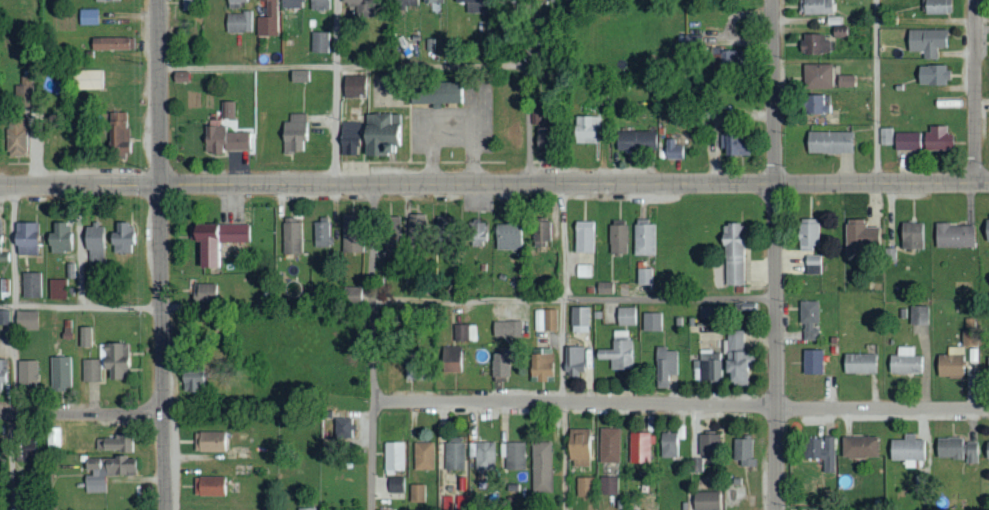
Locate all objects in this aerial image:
building: (106, 0)
building: (235, 1)
building: (431, 1)
building: (405, 2)
building: (291, 3)
building: (186, 4)
building: (318, 4)
building: (473, 5)
building: (816, 6)
building: (937, 6)
building: (361, 7)
building: (88, 16)
building: (267, 17)
building: (239, 21)
building: (728, 25)
building: (839, 31)
building: (693, 39)
building: (927, 41)
building: (319, 42)
building: (112, 43)
building: (816, 44)
building: (725, 61)
road: (343, 66)
building: (932, 74)
building: (299, 76)
building: (817, 76)
building: (87, 79)
building: (846, 81)
building: (352, 85)
road: (336, 91)
road: (875, 91)
road: (975, 91)
road: (528, 92)
building: (436, 93)
building: (24, 95)
building: (817, 103)
building: (227, 109)
building: (585, 128)
building: (119, 132)
building: (379, 132)
building: (538, 132)
building: (293, 133)
building: (15, 136)
building: (885, 136)
building: (347, 138)
building: (937, 138)
building: (225, 139)
building: (635, 140)
building: (828, 141)
building: (906, 141)
building: (729, 143)
building: (672, 149)
road: (494, 184)
building: (415, 223)
building: (987, 227)
building: (539, 231)
building: (321, 233)
building: (390, 233)
building: (476, 234)
building: (807, 234)
building: (351, 235)
building: (911, 235)
building: (954, 235)
building: (507, 236)
building: (583, 236)
building: (858, 236)
building: (291, 237)
building: (25, 238)
building: (59, 238)
building: (122, 238)
building: (214, 238)
building: (618, 238)
building: (644, 239)
building: (94, 242)
road: (79, 245)
building: (3, 253)
building: (732, 254)
road: (774, 254)
building: (890, 254)
road: (160, 255)
building: (812, 264)
building: (582, 270)
building: (644, 276)
building: (31, 285)
building: (57, 288)
building: (605, 288)
building: (204, 292)
building: (352, 294)
road: (572, 297)
road: (81, 305)
building: (709, 311)
building: (919, 315)
building: (625, 316)
building: (4, 317)
building: (26, 319)
building: (579, 319)
building: (545, 320)
building: (809, 320)
building: (652, 321)
building: (507, 328)
building: (465, 332)
building: (85, 336)
road: (371, 346)
road: (562, 347)
road: (14, 349)
building: (618, 352)
building: (735, 356)
building: (450, 358)
building: (114, 359)
building: (574, 360)
building: (811, 361)
building: (904, 361)
building: (859, 362)
building: (950, 362)
building: (499, 364)
building: (541, 364)
building: (664, 366)
building: (710, 366)
building: (91, 370)
building: (2, 371)
building: (988, 372)
building: (60, 373)
building: (27, 375)
building: (190, 384)
road: (681, 403)
road: (81, 415)
building: (342, 427)
building: (52, 437)
building: (209, 441)
building: (113, 443)
building: (669, 444)
building: (708, 444)
building: (610, 445)
building: (579, 447)
building: (640, 447)
building: (859, 447)
building: (948, 448)
building: (986, 449)
building: (907, 450)
building: (26, 451)
building: (743, 451)
building: (820, 451)
building: (971, 452)
building: (454, 453)
building: (423, 455)
building: (482, 455)
building: (514, 456)
building: (392, 457)
building: (696, 465)
building: (541, 467)
building: (106, 471)
building: (395, 485)
building: (609, 485)
building: (208, 486)
building: (584, 491)
building: (417, 493)
building: (705, 500)
building: (461, 502)
building: (446, 503)
building: (306, 509)

